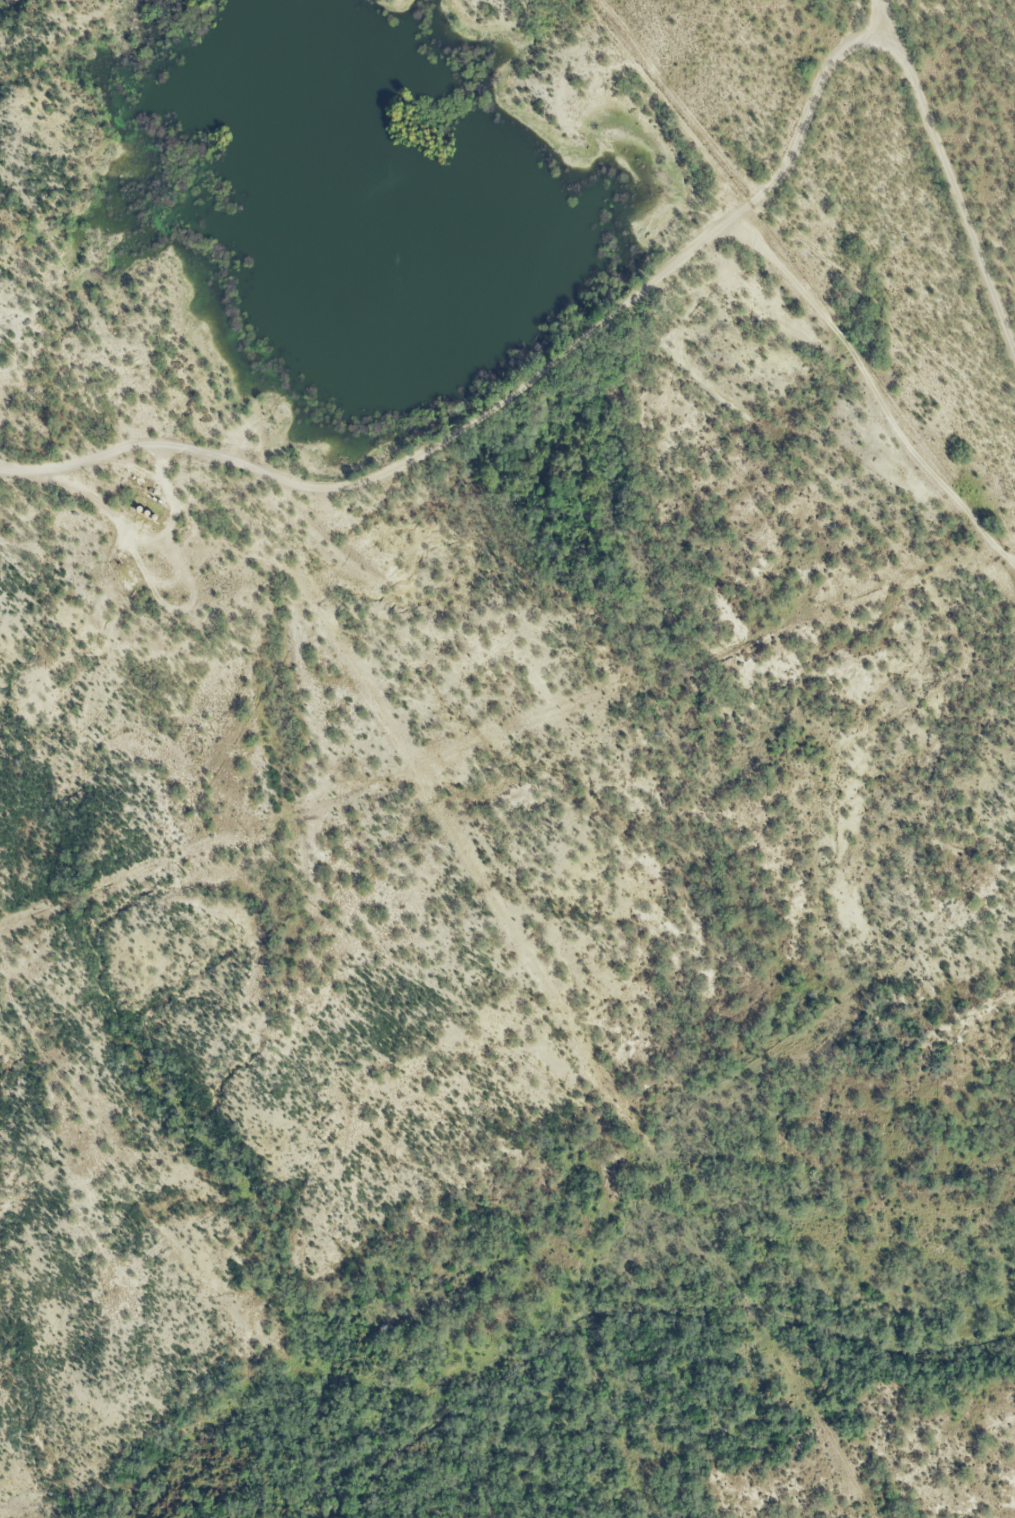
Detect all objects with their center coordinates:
road: (690, 124)
road: (569, 361)

